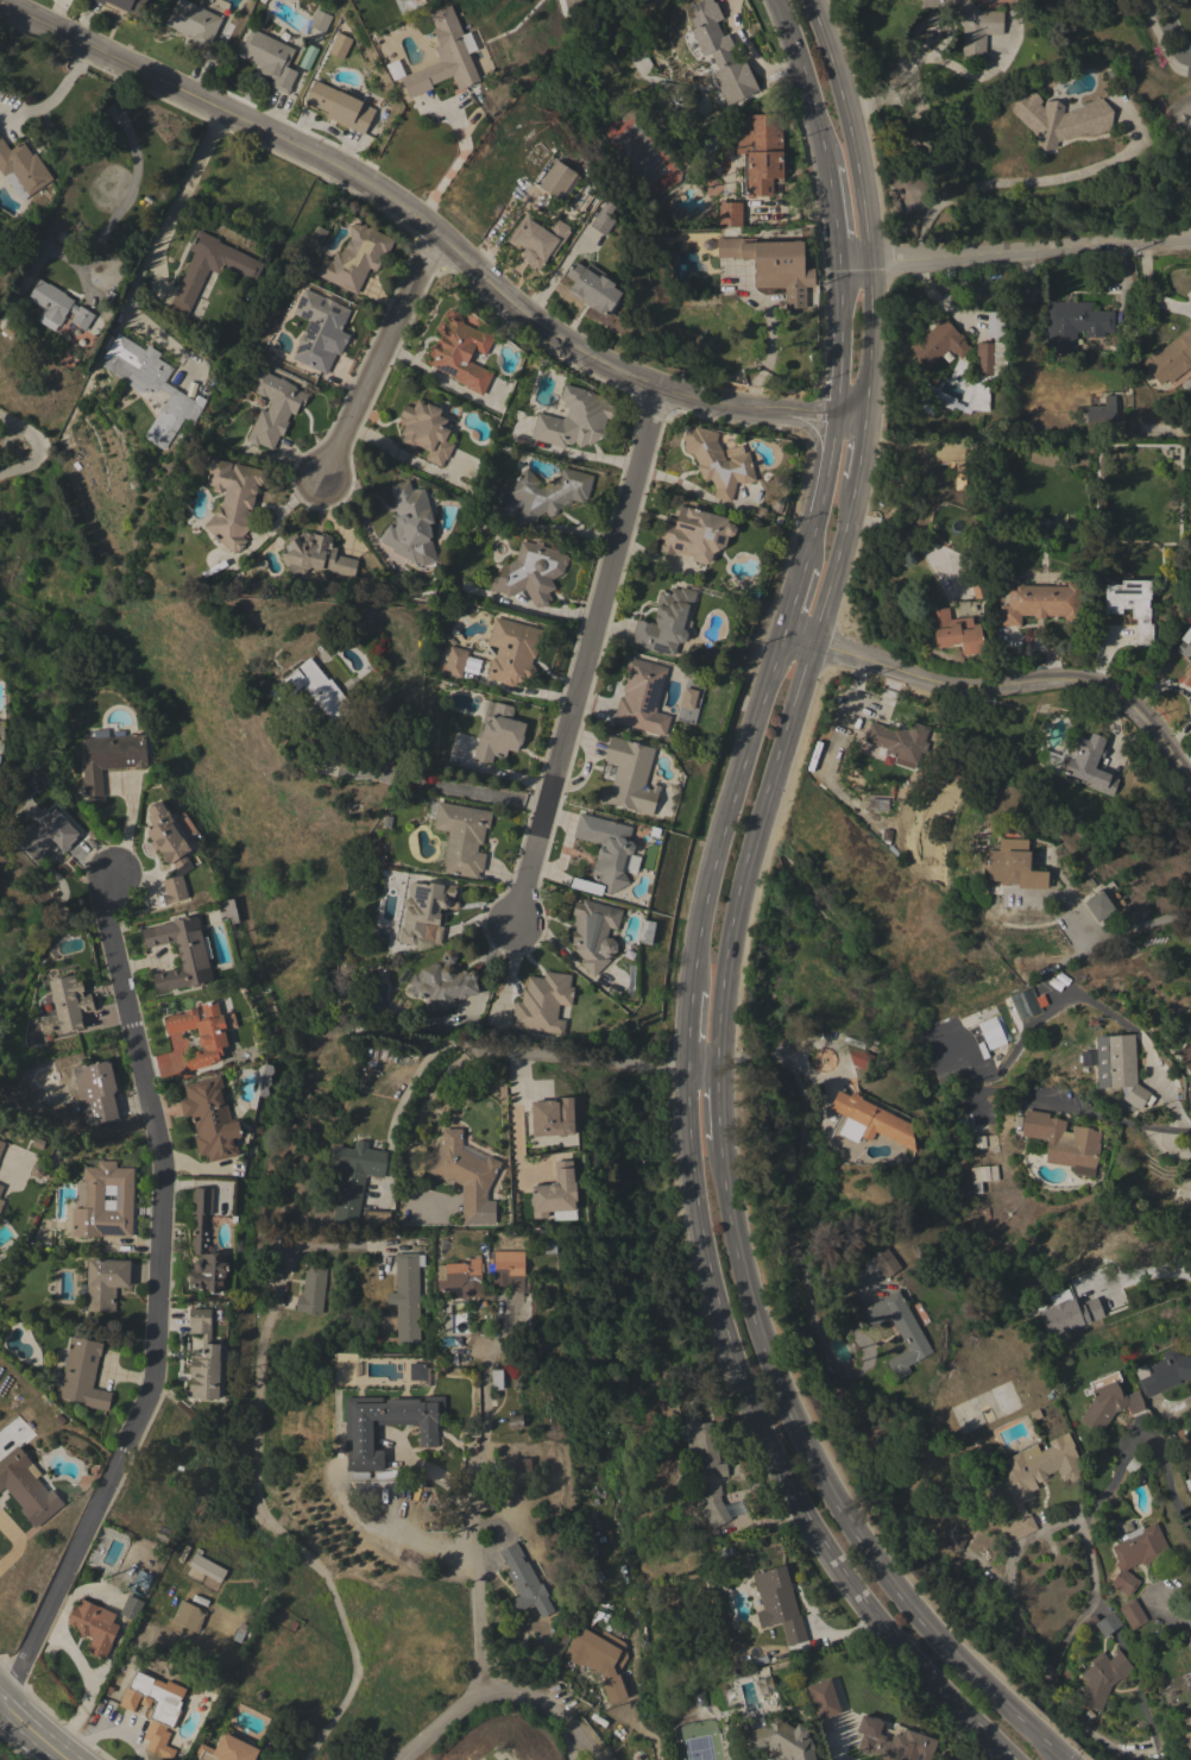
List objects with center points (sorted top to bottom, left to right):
building: (571, 2)
building: (125, 5)
building: (384, 17)
building: (320, 20)
building: (970, 24)
building: (195, 27)
road: (1161, 43)
building: (339, 45)
building: (720, 52)
road: (78, 55)
building: (446, 57)
building: (269, 58)
road: (925, 62)
road: (802, 83)
building: (668, 92)
road: (48, 103)
building: (339, 106)
building: (1180, 108)
building: (1059, 118)
building: (760, 151)
road: (449, 168)
building: (21, 169)
road: (133, 174)
building: (557, 181)
road: (1035, 181)
building: (1190, 190)
road: (862, 209)
building: (730, 214)
road: (832, 214)
building: (603, 218)
road: (434, 228)
building: (317, 237)
building: (537, 238)
road: (1014, 247)
building: (354, 257)
building: (773, 265)
road: (144, 272)
building: (193, 277)
building: (593, 288)
building: (57, 306)
building: (1073, 323)
building: (317, 329)
building: (938, 342)
building: (460, 352)
road: (379, 357)
building: (1171, 358)
building: (988, 363)
building: (150, 383)
building: (273, 407)
building: (1099, 411)
road: (834, 413)
building: (574, 419)
building: (426, 430)
road: (36, 445)
road: (862, 454)
building: (717, 461)
building: (547, 492)
building: (232, 501)
building: (410, 526)
building: (695, 534)
road: (916, 539)
building: (314, 555)
building: (530, 572)
building: (977, 586)
road: (789, 596)
building: (1040, 602)
building: (1132, 605)
building: (664, 621)
building: (954, 631)
building: (1185, 645)
building: (512, 650)
road: (585, 650)
building: (454, 661)
road: (1001, 685)
building: (310, 689)
building: (642, 697)
road: (881, 700)
building: (686, 705)
building: (498, 733)
building: (899, 742)
road: (834, 750)
building: (109, 756)
building: (1090, 763)
road: (1187, 769)
road: (769, 774)
building: (630, 775)
road: (475, 794)
building: (877, 804)
road: (726, 805)
building: (50, 836)
building: (461, 837)
building: (169, 850)
building: (604, 853)
building: (1007, 866)
building: (1098, 906)
building: (423, 909)
road: (749, 924)
road: (1136, 926)
building: (594, 932)
building: (181, 953)
building: (445, 981)
building: (542, 1002)
building: (1026, 1002)
building: (67, 1005)
road: (687, 1027)
building: (201, 1032)
building: (991, 1033)
road: (527, 1051)
building: (1185, 1054)
road: (767, 1060)
building: (1123, 1068)
traffic signals: (683, 1069)
traffic signals: (717, 1073)
building: (96, 1092)
building: (1189, 1093)
road: (717, 1105)
road: (516, 1114)
building: (553, 1117)
building: (210, 1119)
building: (871, 1119)
road: (1116, 1119)
building: (981, 1142)
building: (1064, 1142)
building: (1, 1144)
road: (1172, 1149)
building: (465, 1174)
building: (354, 1176)
building: (982, 1176)
building: (1, 1187)
building: (1190, 1188)
building: (555, 1192)
building: (93, 1196)
building: (1, 1203)
building: (376, 1217)
building: (550, 1244)
building: (204, 1247)
building: (886, 1263)
building: (508, 1269)
building: (461, 1277)
building: (105, 1283)
building: (313, 1290)
building: (408, 1297)
road: (158, 1305)
building: (1069, 1315)
building: (899, 1332)
building: (203, 1358)
building: (416, 1371)
building: (1165, 1372)
building: (82, 1374)
building: (496, 1379)
building: (1107, 1406)
building: (358, 1435)
road: (768, 1451)
building: (519, 1464)
building: (1133, 1464)
building: (705, 1466)
road: (1167, 1475)
building: (1035, 1478)
building: (27, 1486)
road: (826, 1486)
road: (471, 1489)
road: (256, 1491)
road: (345, 1504)
road: (1055, 1527)
building: (956, 1539)
road: (14, 1544)
building: (1136, 1554)
building: (206, 1566)
building: (524, 1582)
building: (779, 1603)
building: (131, 1608)
building: (1133, 1614)
road: (1178, 1614)
building: (188, 1615)
building: (1103, 1623)
building: (93, 1626)
building: (1187, 1642)
building: (599, 1657)
building: (1103, 1679)
building: (764, 1685)
road: (500, 1689)
building: (823, 1698)
building: (155, 1709)
road: (1079, 1722)
road: (32, 1730)
building: (783, 1741)
building: (894, 1742)
building: (226, 1749)

